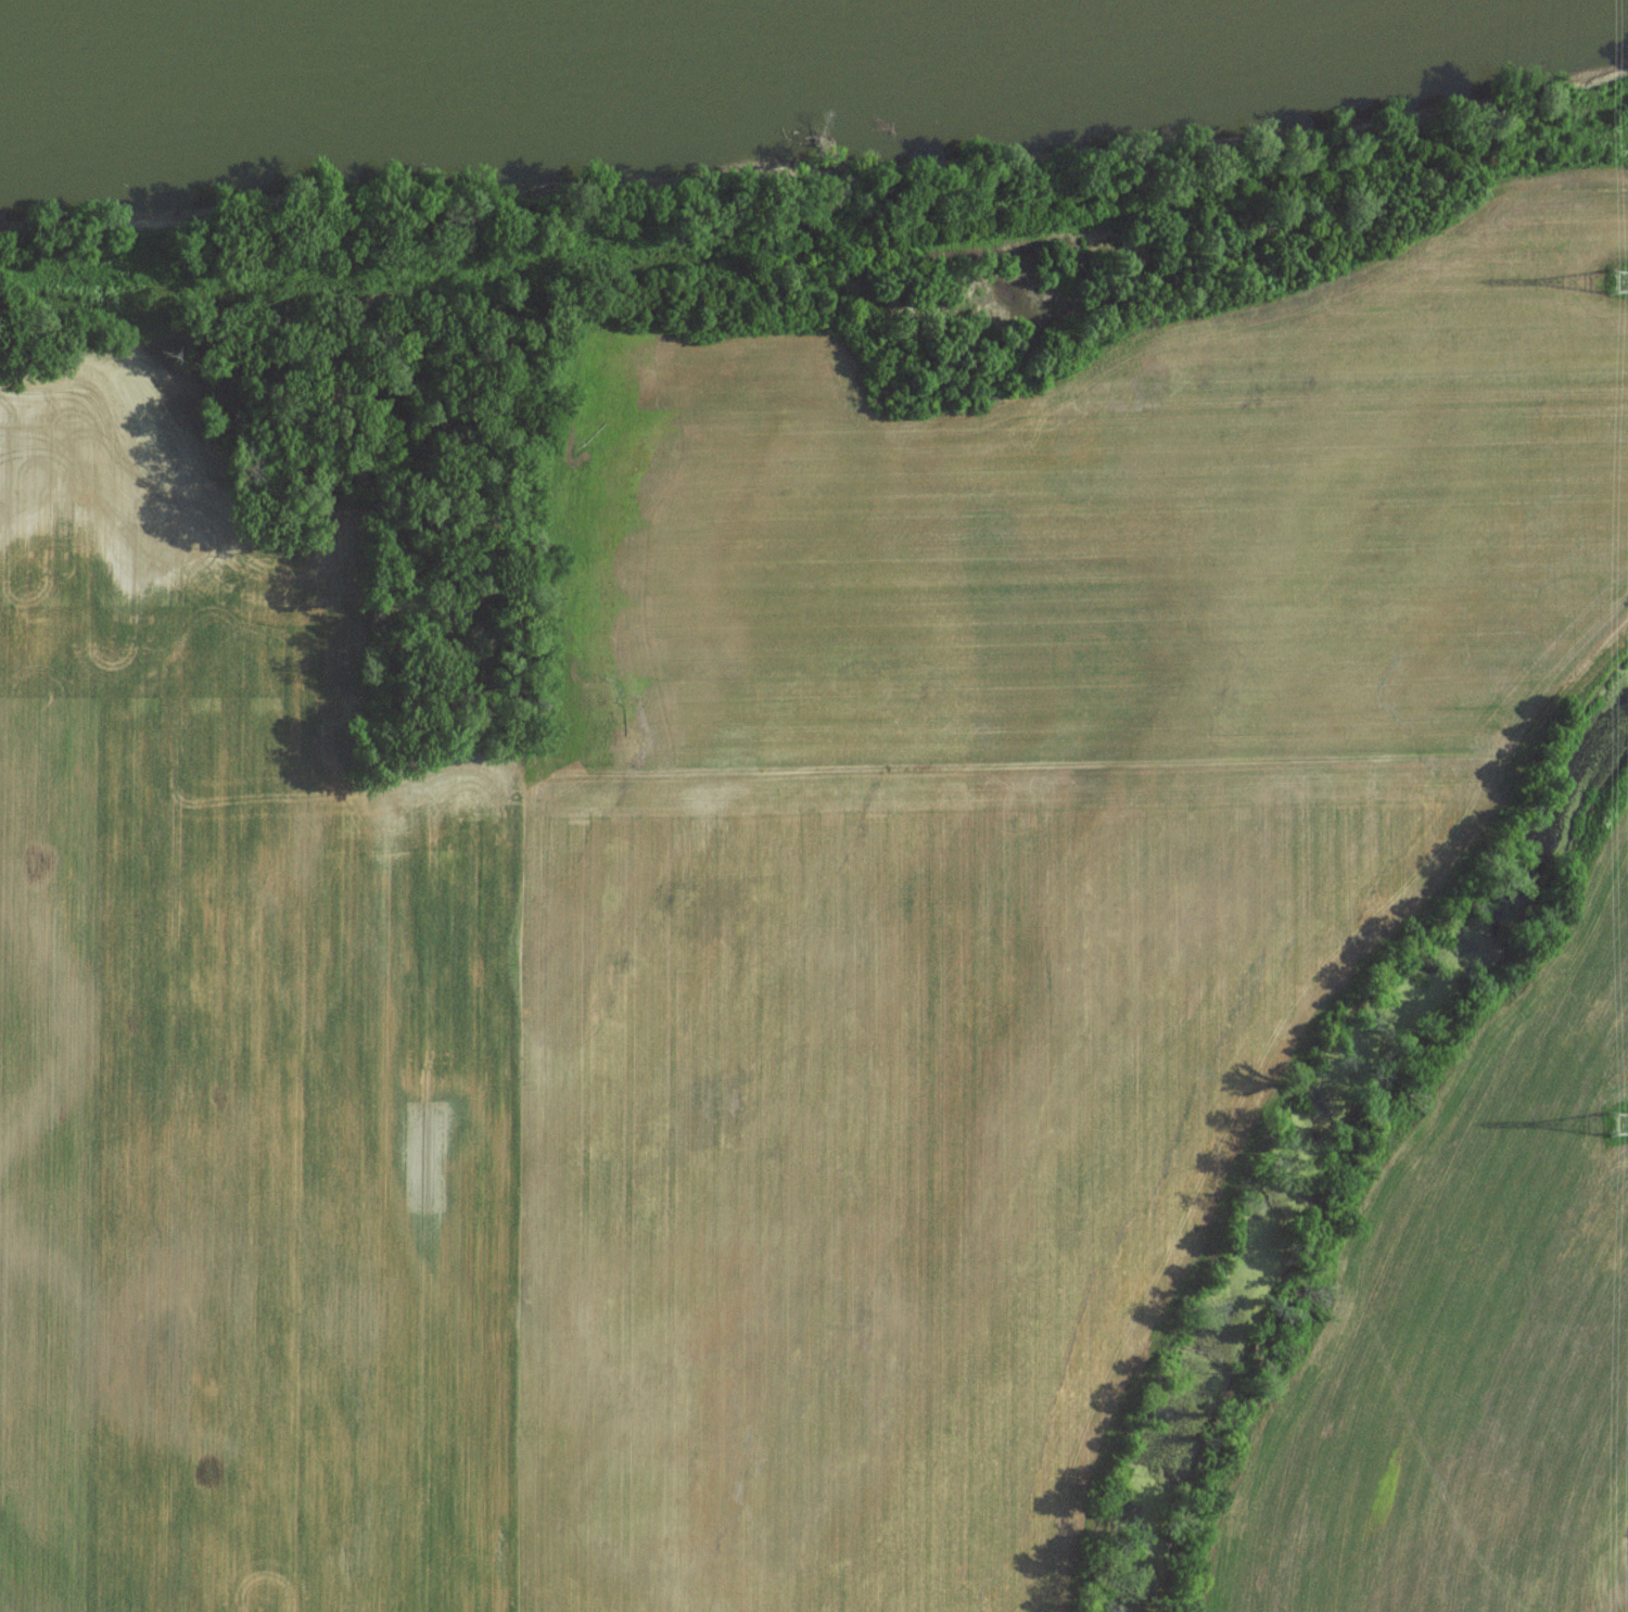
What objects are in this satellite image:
power tower: (1627, 1127)

